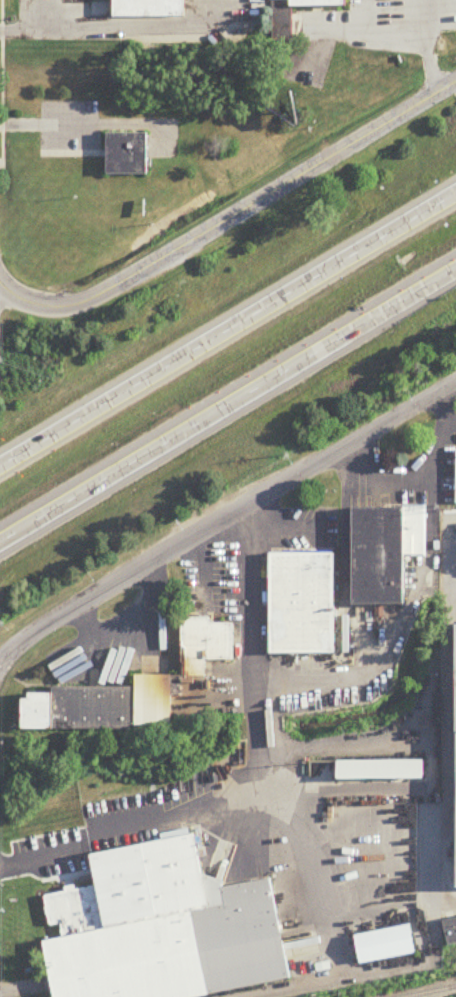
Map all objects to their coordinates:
building: (317, 4)
building: (150, 9)
road: (362, 24)
road: (128, 26)
road: (427, 46)
road: (44, 125)
building: (129, 153)
road: (231, 217)
road: (2, 294)
road: (228, 331)
road: (227, 406)
road: (444, 411)
road: (400, 477)
road: (229, 516)
road: (281, 529)
building: (385, 553)
building: (303, 603)
road: (250, 656)
road: (3, 661)
road: (320, 683)
building: (133, 690)
road: (446, 750)
building: (381, 770)
road: (184, 816)
road: (40, 856)
building: (167, 928)
building: (450, 931)
building: (386, 945)
railway: (428, 991)

